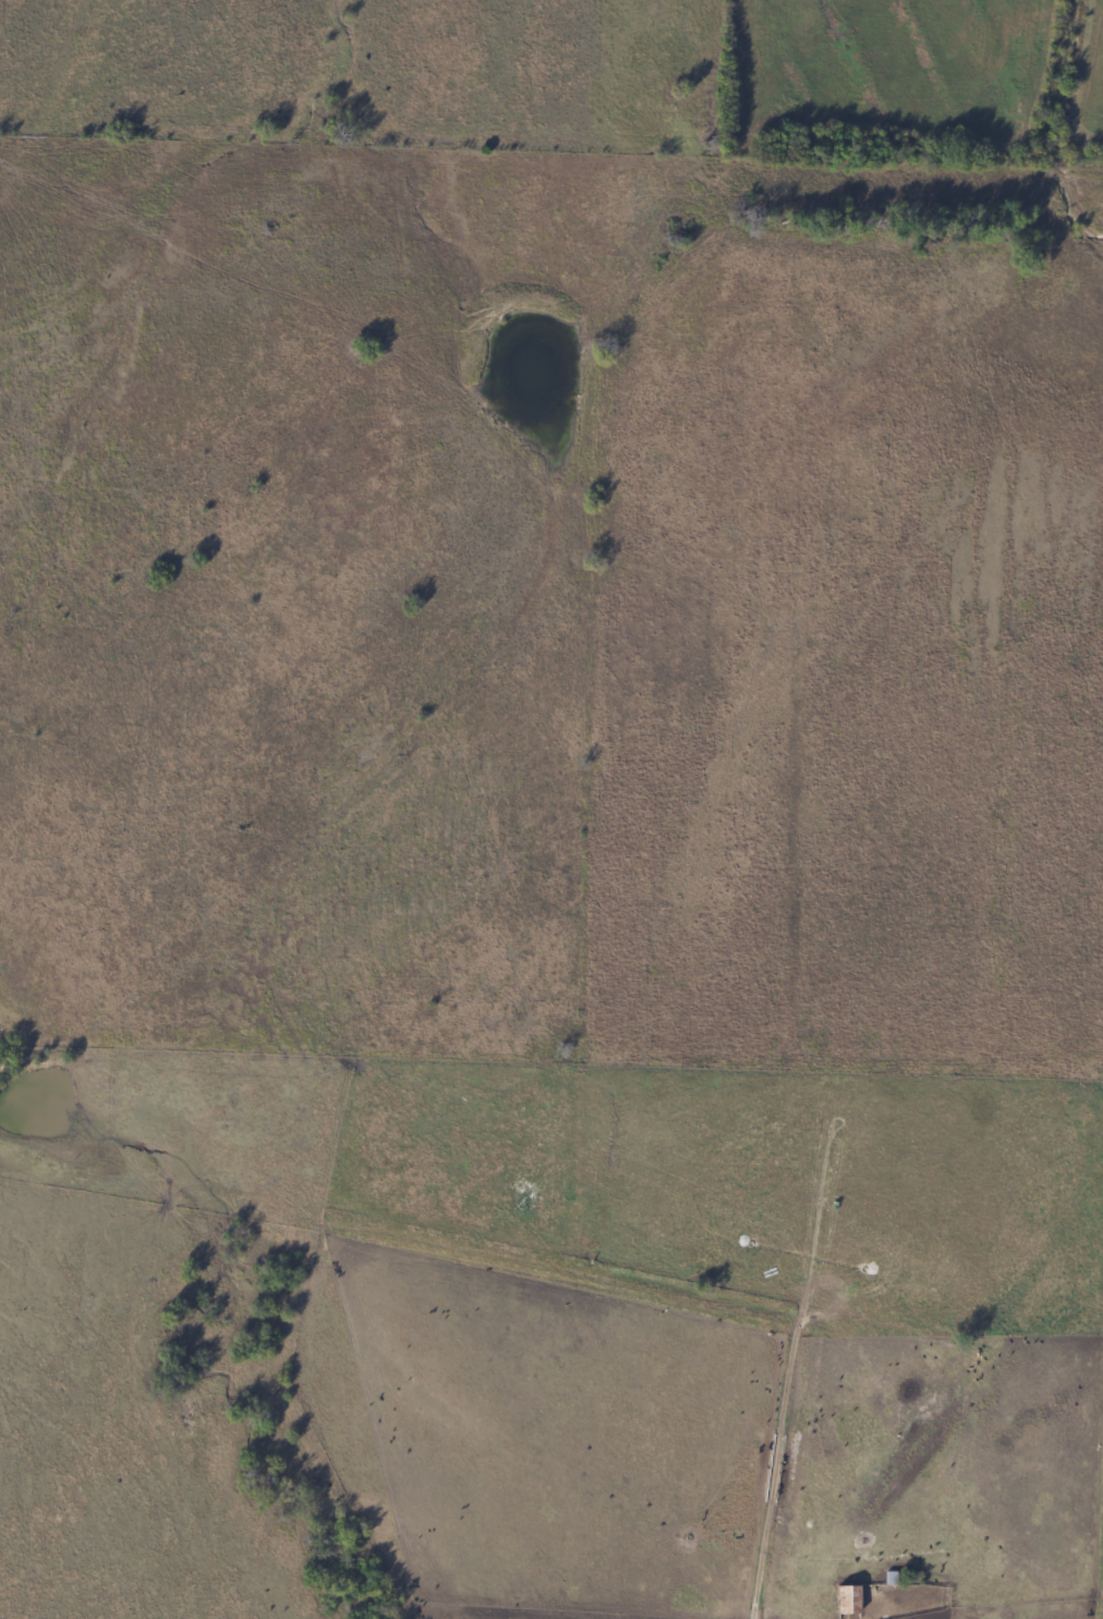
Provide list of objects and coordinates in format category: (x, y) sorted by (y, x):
road: (463, 46)
building: (847, 1602)

